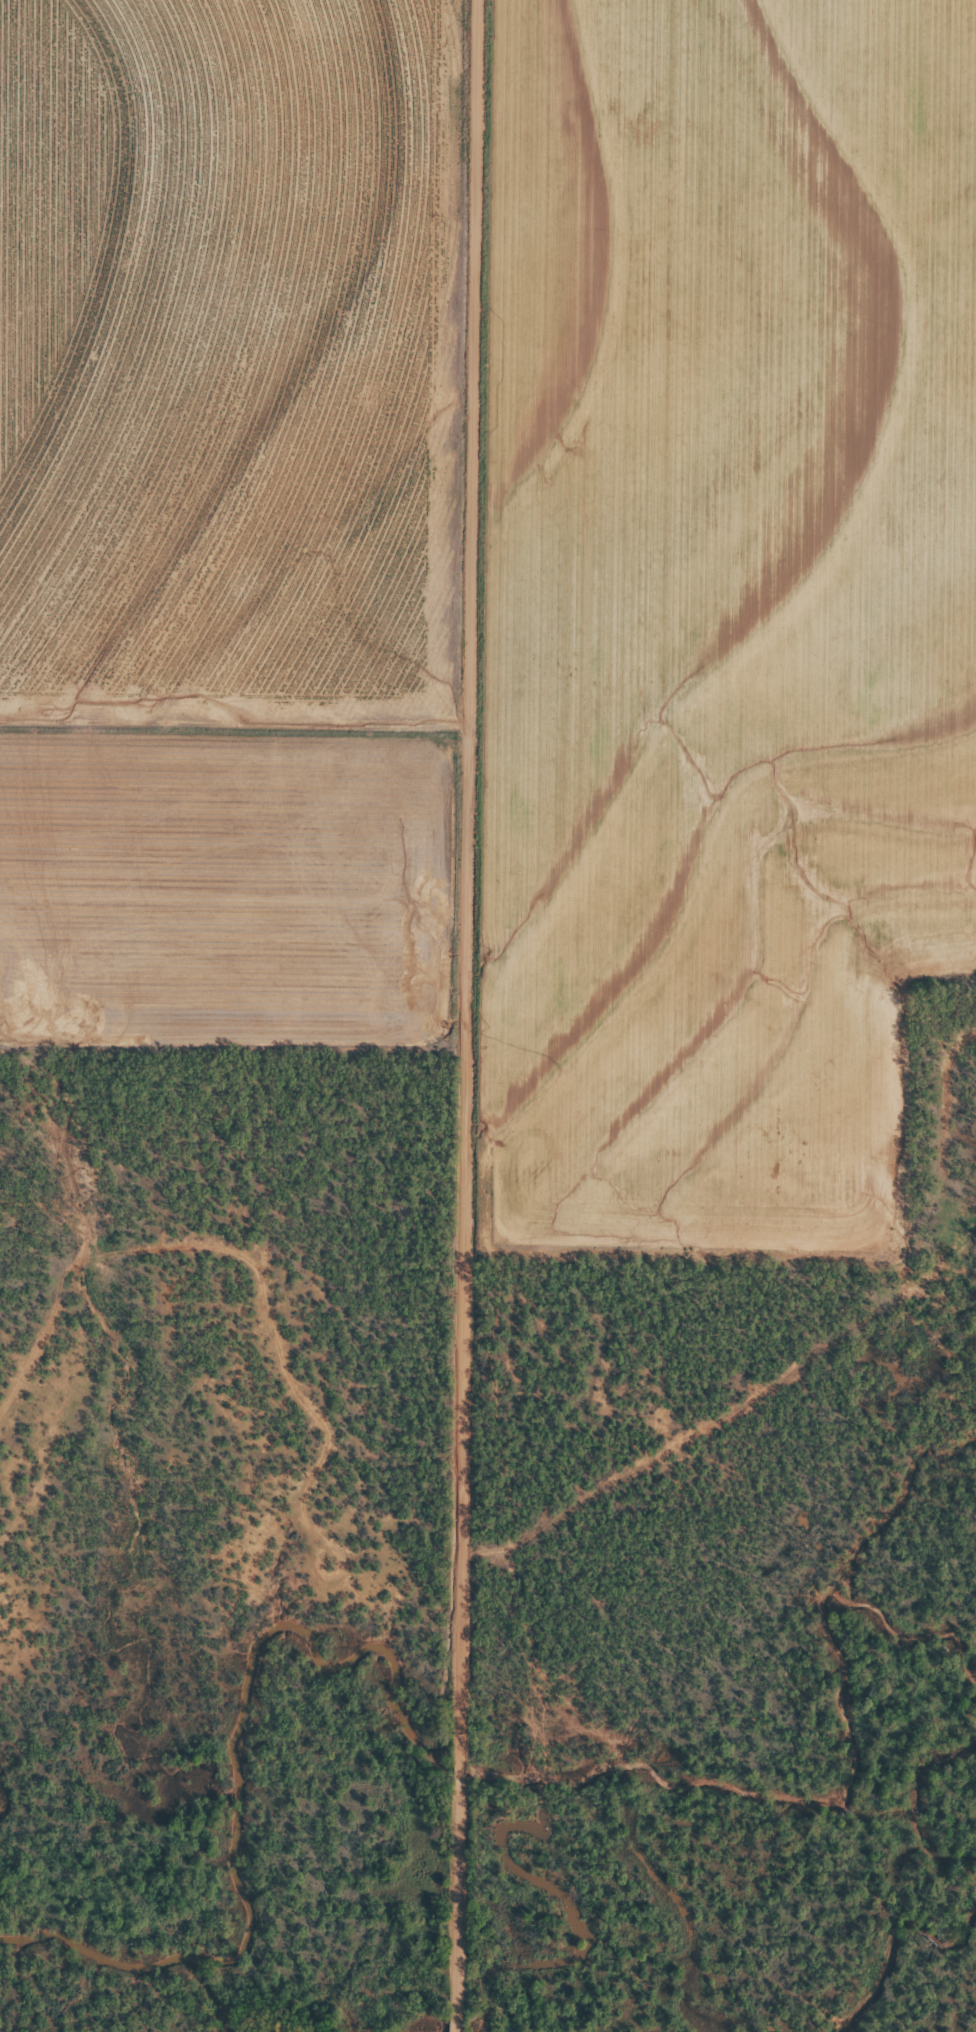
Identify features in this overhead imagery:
road: (442, 1016)

